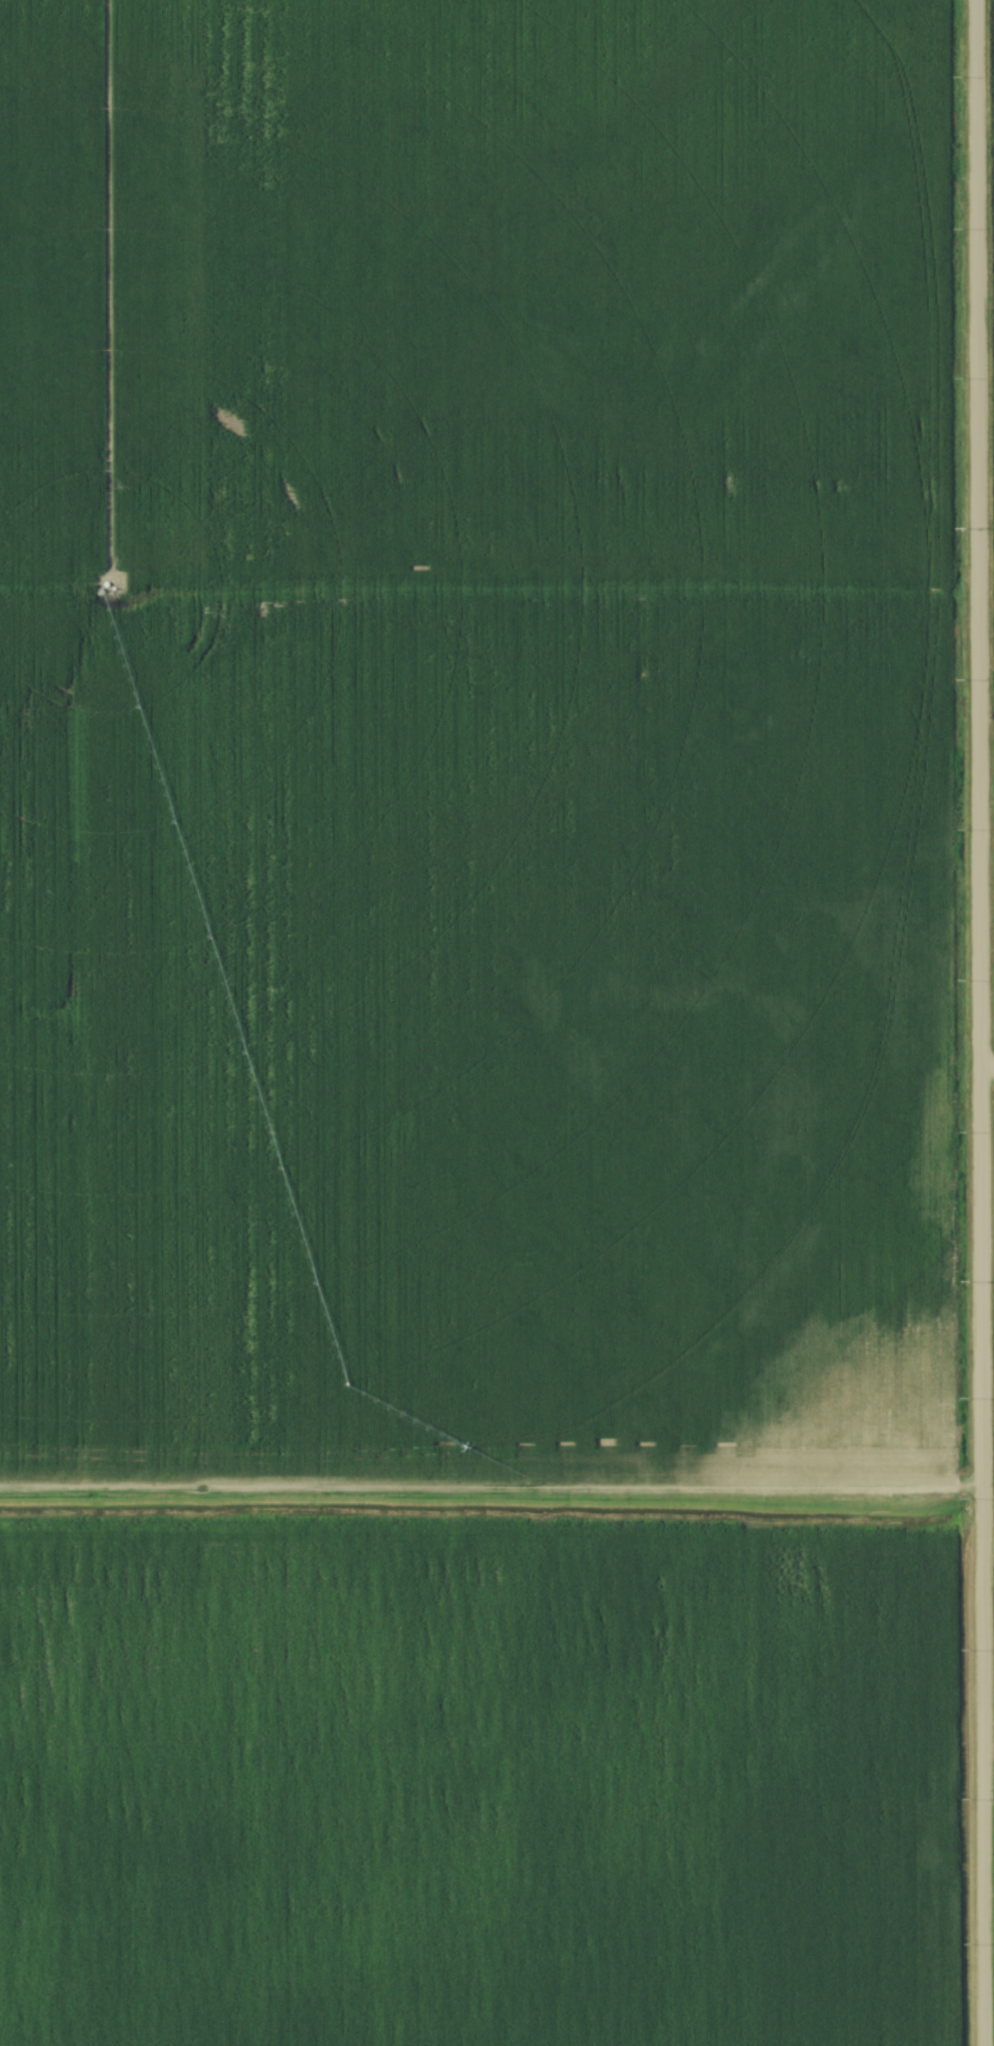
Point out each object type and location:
road: (975, 1023)

